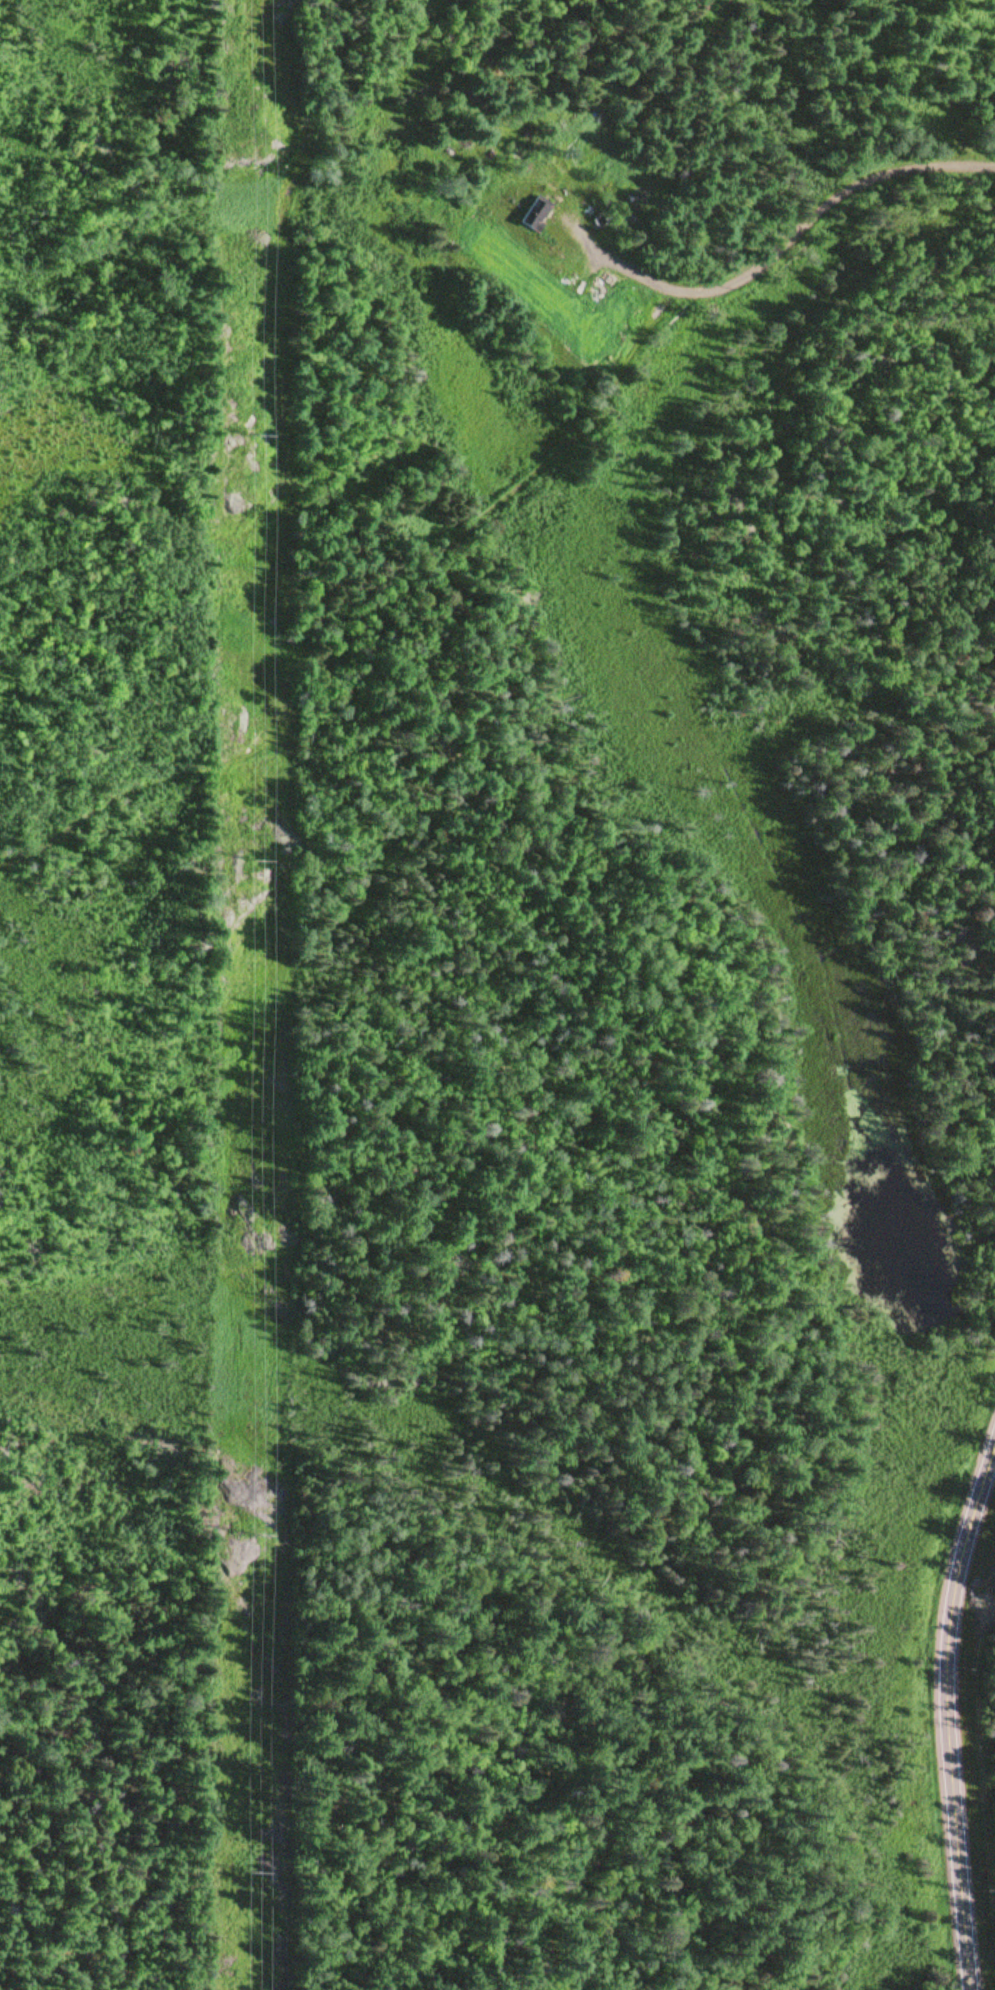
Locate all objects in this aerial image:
building: (526, 213)
building: (589, 293)
road: (476, 433)
road: (948, 1714)

